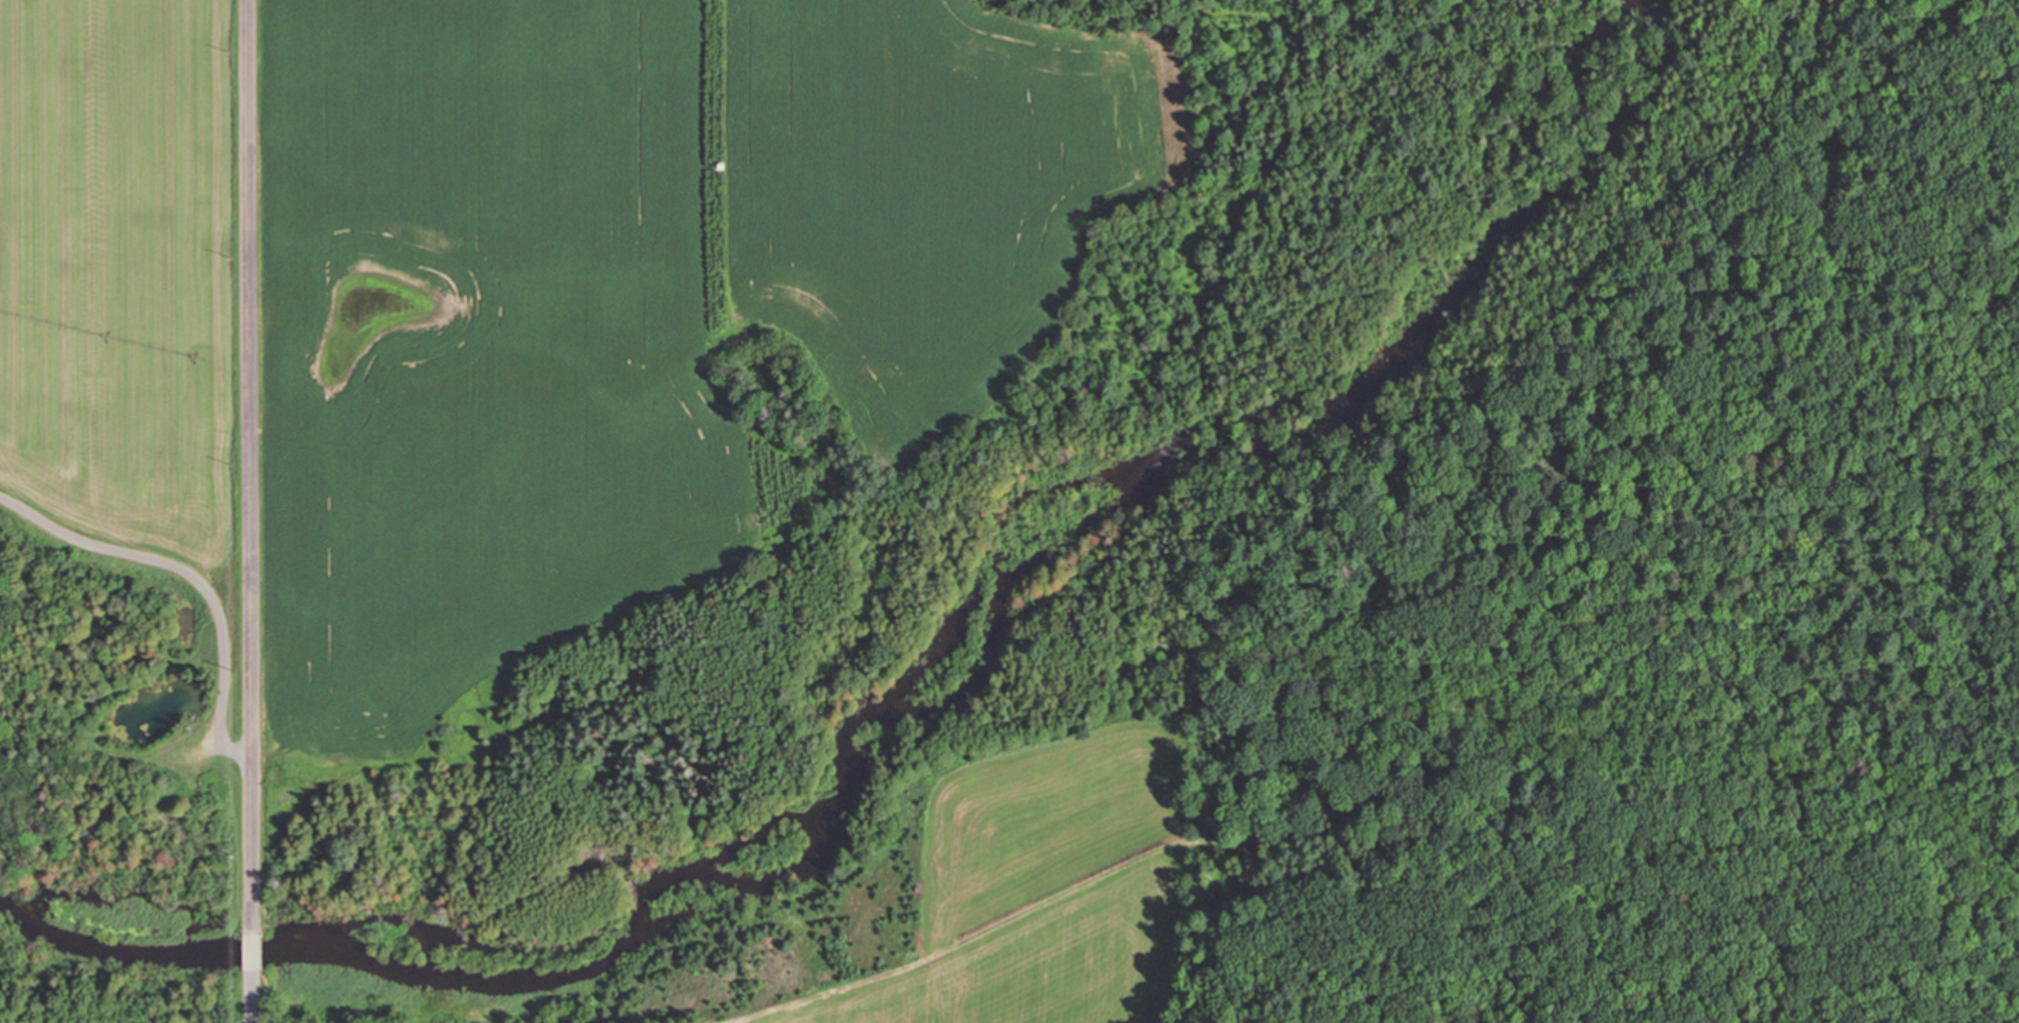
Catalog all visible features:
road: (252, 466)
road: (193, 574)
river: (919, 708)
road: (252, 951)
road: (252, 996)

